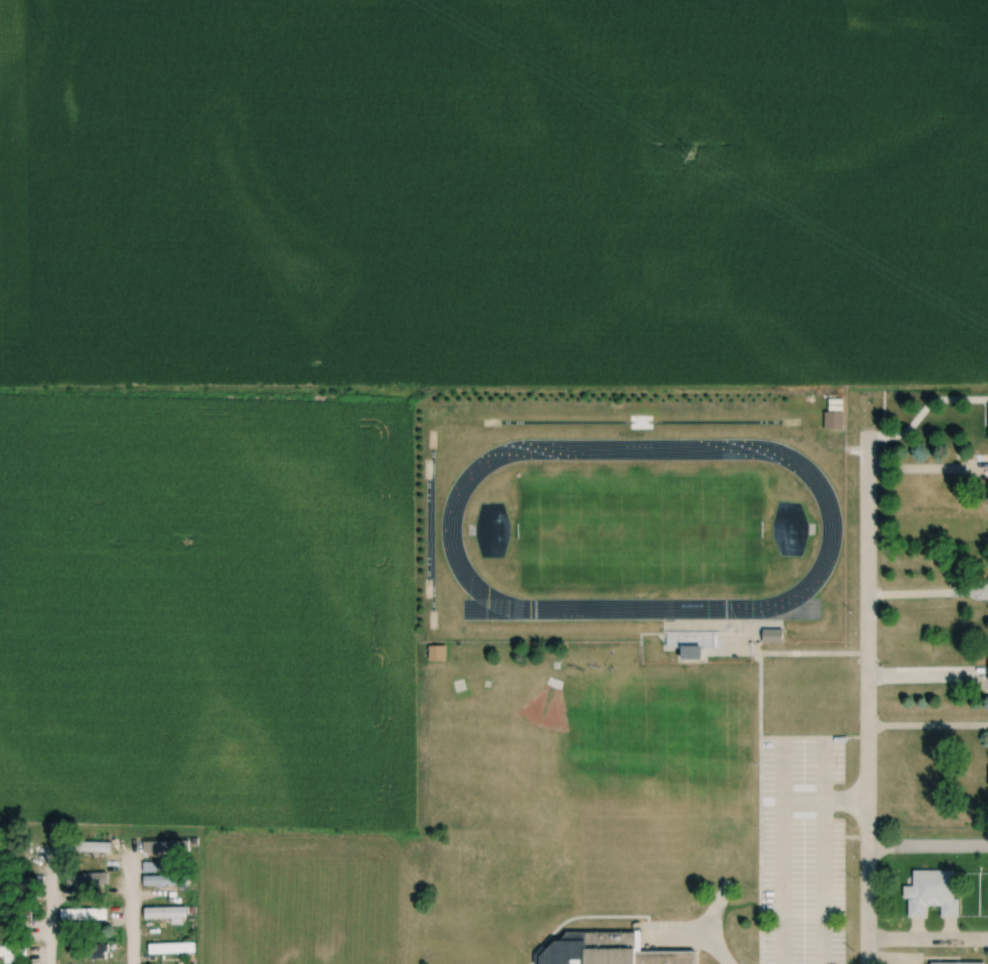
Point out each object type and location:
power tower: (694, 154)
road: (924, 406)
building: (836, 419)
road: (929, 468)
park: (642, 527)
track: (833, 533)
road: (929, 594)
road: (801, 656)
road: (929, 677)
road: (870, 699)
road: (929, 728)
road: (783, 839)
building: (12, 846)
building: (90, 846)
building: (170, 846)
road: (928, 847)
building: (151, 866)
road: (56, 872)
building: (168, 879)
road: (824, 882)
building: (16, 883)
building: (934, 892)
road: (133, 908)
building: (167, 912)
building: (85, 914)
building: (14, 918)
road: (928, 938)
building: (174, 947)
building: (14, 950)
building: (90, 950)
building: (612, 950)
road: (890, 963)
building: (954, 963)

